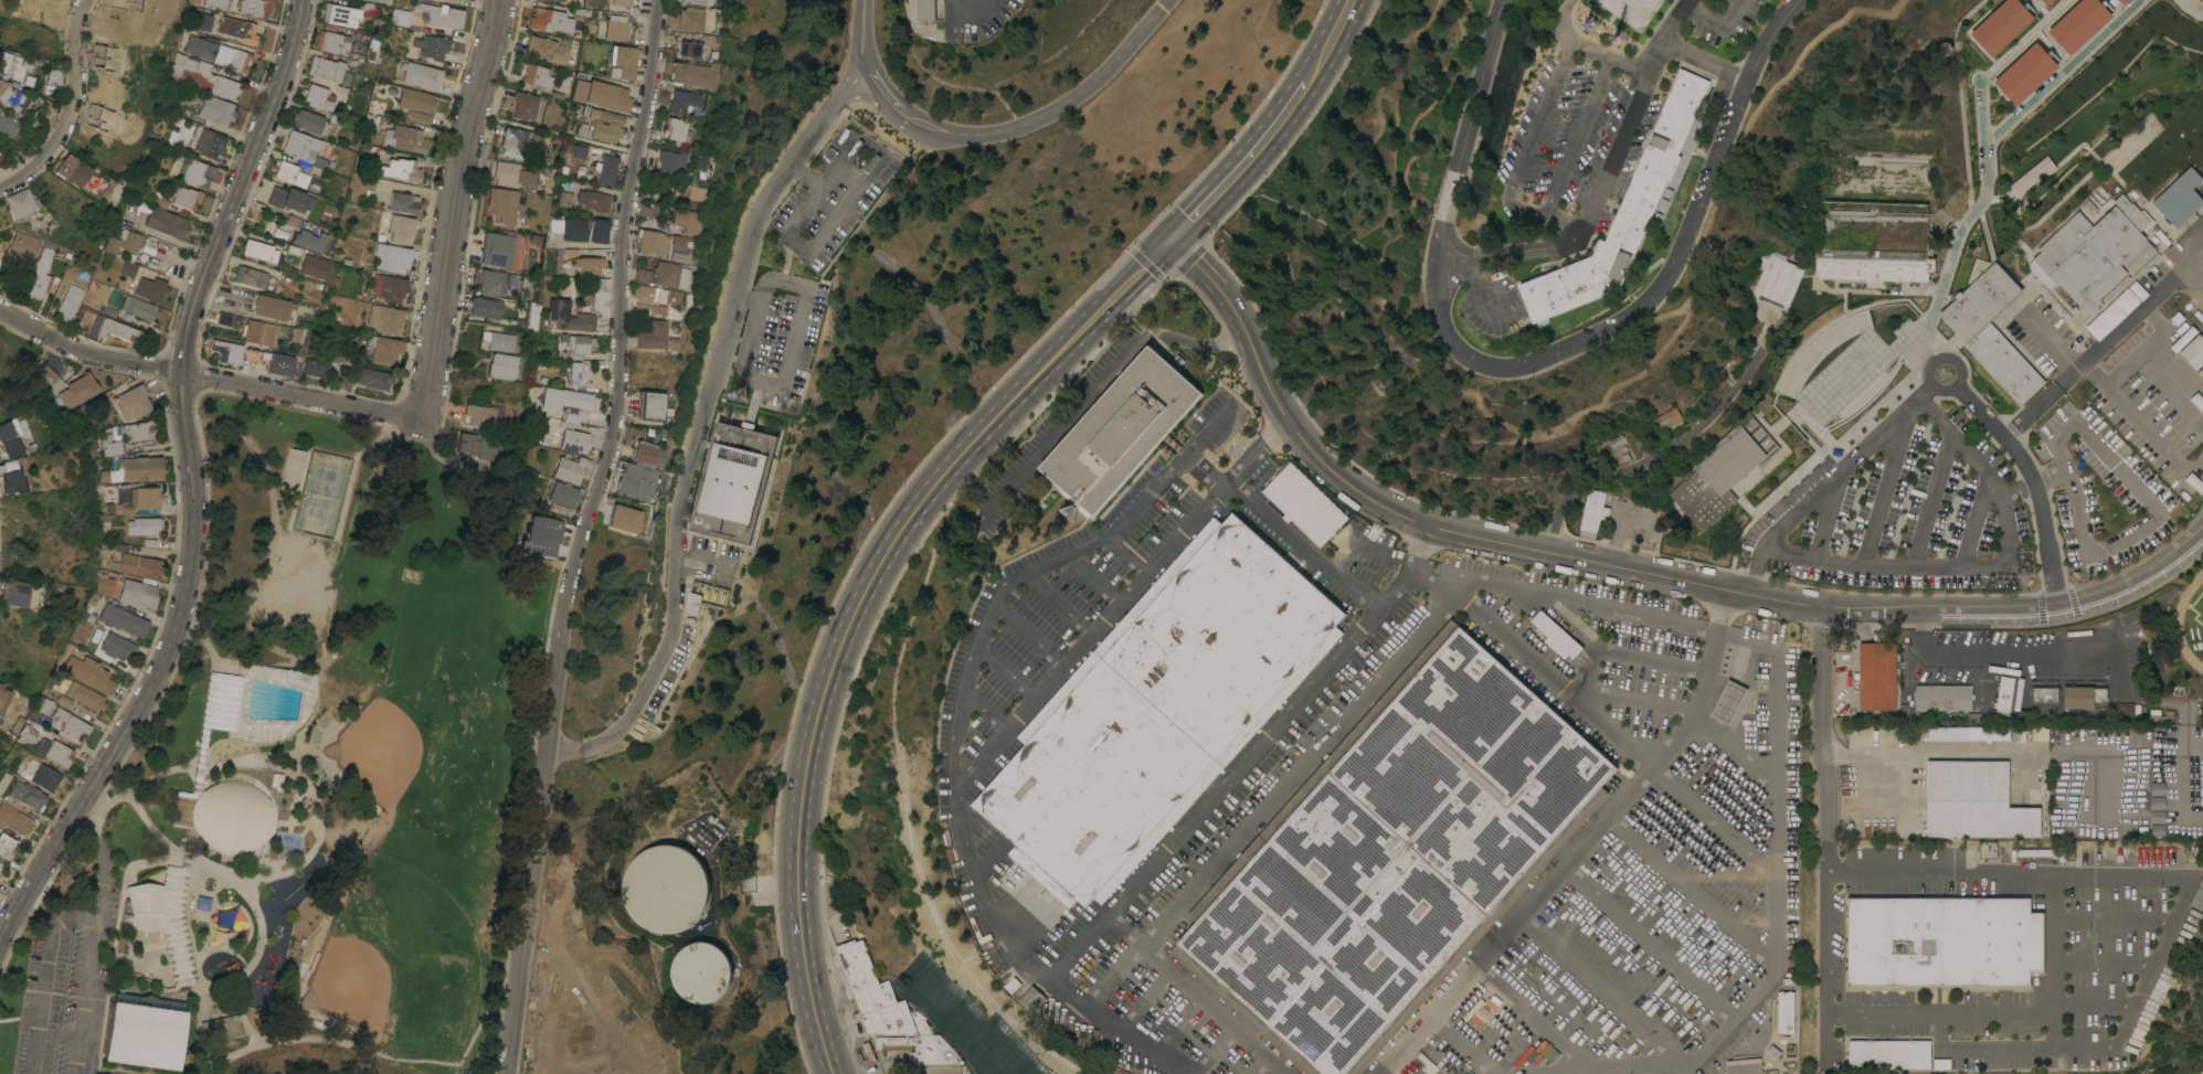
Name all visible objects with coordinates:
building: (549, 0)
building: (560, 0)
building: (378, 1)
building: (696, 1)
building: (2047, 1)
building: (2123, 1)
building: (215, 3)
building: (622, 3)
building: (255, 7)
building: (925, 10)
building: (1632, 10)
road: (972, 11)
building: (345, 13)
building: (400, 17)
building: (443, 17)
building: (687, 19)
building: (550, 20)
road: (1712, 20)
building: (202, 21)
road: (1565, 23)
building: (2079, 23)
building: (615, 24)
building: (2002, 25)
building: (237, 30)
road: (1664, 33)
building: (333, 42)
road: (1327, 43)
building: (201, 46)
building: (432, 46)
building: (691, 49)
building: (1945, 49)
building: (547, 50)
road: (1592, 50)
building: (221, 55)
building: (624, 60)
road: (1705, 60)
building: (240, 61)
building: (11, 64)
building: (177, 64)
road: (1631, 64)
building: (326, 68)
building: (687, 73)
building: (2026, 73)
building: (52, 75)
building: (422, 75)
building: (537, 76)
building: (206, 79)
building: (28, 81)
building: (1543, 81)
building: (11, 94)
building: (601, 95)
building: (318, 96)
building: (415, 100)
building: (17, 102)
building: (684, 103)
building: (525, 105)
road: (70, 106)
building: (214, 111)
road: (1542, 115)
building: (371, 120)
building: (309, 121)
building: (7, 124)
building: (602, 126)
road: (1021, 126)
building: (679, 131)
road: (1577, 136)
building: (403, 138)
building: (513, 141)
building: (210, 143)
building: (299, 146)
building: (370, 151)
building: (578, 151)
road: (1613, 156)
building: (672, 163)
building: (317, 166)
road: (1241, 166)
building: (1505, 166)
building: (396, 169)
building: (605, 169)
building: (70, 170)
building: (700, 171)
building: (197, 172)
building: (289, 173)
building: (509, 176)
building: (367, 185)
building: (687, 195)
parking lot: (833, 195)
building: (186, 196)
building: (2179, 198)
building: (289, 199)
building: (563, 199)
building: (592, 200)
building: (2122, 202)
building: (403, 203)
building: (502, 204)
building: (2089, 208)
building: (24, 209)
road: (452, 209)
building: (652, 210)
building: (1629, 210)
road: (1540, 214)
road: (840, 215)
building: (166, 220)
road: (1964, 220)
building: (690, 222)
building: (401, 227)
building: (583, 230)
building: (136, 241)
building: (307, 241)
traffic signals: (1173, 241)
building: (653, 242)
building: (25, 244)
building: (110, 244)
building: (680, 248)
building: (497, 249)
road: (1514, 249)
building: (258, 251)
building: (0, 253)
building: (2095, 253)
building: (44, 255)
building: (391, 257)
building: (2148, 264)
building: (587, 265)
road: (1196, 265)
building: (311, 266)
building: (129, 268)
building: (1873, 268)
building: (664, 275)
building: (248, 277)
building: (1776, 278)
building: (496, 283)
building: (36, 284)
building: (310, 286)
building: (388, 287)
building: (2116, 288)
building: (150, 289)
road: (735, 293)
building: (646, 294)
building: (597, 296)
building: (658, 296)
building: (70, 302)
building: (269, 307)
building: (484, 307)
building: (138, 308)
building: (646, 309)
building: (1755, 310)
building: (109, 311)
road: (1233, 311)
building: (532, 316)
building: (383, 318)
building: (571, 318)
building: (223, 319)
building: (113, 329)
building: (1991, 330)
building: (261, 332)
building: (656, 337)
building: (497, 341)
parking lot: (777, 341)
building: (580, 342)
road: (2099, 344)
road: (2146, 345)
road: (792, 349)
building: (383, 350)
building: (226, 351)
building: (2192, 352)
building: (570, 354)
building: (254, 355)
road: (1547, 357)
road: (1942, 359)
building: (278, 364)
building: (500, 366)
building: (315, 368)
building: (2200, 372)
building: (573, 374)
road: (209, 378)
building: (372, 379)
building: (340, 381)
building: (70, 386)
road: (1099, 386)
road: (2170, 391)
building: (568, 400)
building: (134, 403)
building: (653, 405)
building: (572, 415)
building: (479, 416)
building: (1664, 421)
road: (2140, 421)
building: (141, 430)
building: (1120, 430)
building: (570, 436)
building: (9, 440)
building: (112, 445)
building: (480, 445)
road: (1670, 447)
building: (648, 454)
building: (1, 467)
building: (139, 469)
building: (570, 469)
building: (1723, 471)
building: (102, 475)
building: (11, 477)
building: (734, 481)
road: (1829, 481)
road: (2034, 481)
building: (638, 482)
road: (192, 485)
building: (563, 495)
road: (1362, 495)
building: (123, 496)
building: (147, 499)
building: (1304, 504)
building: (108, 508)
building: (123, 509)
building: (1593, 512)
road: (2146, 518)
building: (622, 519)
building: (1645, 522)
building: (146, 525)
building: (539, 535)
road: (581, 535)
road: (1304, 544)
road: (1981, 563)
building: (137, 565)
road: (1028, 571)
building: (104, 583)
building: (15, 593)
building: (138, 593)
building: (1690, 595)
building: (707, 596)
road: (858, 604)
building: (88, 605)
road: (1885, 609)
building: (124, 619)
track: (2178, 629)
building: (1556, 636)
building: (117, 646)
road: (2000, 651)
parking lot: (671, 666)
road: (1531, 666)
building: (2154, 669)
building: (91, 673)
building: (1877, 677)
building: (2045, 693)
road: (644, 695)
building: (86, 696)
building: (2004, 696)
building: (2084, 696)
building: (3, 698)
building: (1943, 698)
road: (1357, 700)
building: (64, 701)
building: (1729, 702)
building: (1159, 709)
building: (2126, 710)
building: (40, 711)
building: (17, 724)
building: (72, 724)
building: (2030, 732)
building: (30, 733)
building: (1967, 733)
road: (1947, 747)
road: (564, 751)
road: (993, 751)
building: (60, 753)
road: (1245, 759)
road: (763, 772)
building: (41, 775)
park: (314, 780)
building: (4, 781)
building: (2046, 784)
building: (288, 787)
building: (27, 796)
building: (1974, 801)
building: (2156, 810)
building: (14, 819)
building: (202, 832)
road: (1590, 833)
road: (1825, 837)
building: (7, 844)
building: (1988, 850)
building: (2036, 852)
building: (1394, 858)
road: (489, 859)
road: (100, 861)
building: (0, 864)
building: (0, 873)
road: (1776, 885)
building: (665, 887)
storage tank: (665, 887)
building: (2197, 896)
road: (540, 929)
building: (1943, 942)
road: (2055, 943)
building: (701, 972)
storage tank: (701, 972)
road: (45, 976)
road: (84, 992)
building: (878, 996)
road: (2135, 997)
building: (1032, 999)
road: (539, 1008)
road: (599, 1009)
building: (1786, 1011)
road: (1432, 1019)
building: (221, 1028)
building: (1539, 1029)
road: (1239, 1033)
building: (144, 1035)
building: (923, 1052)
building: (1889, 1054)
building: (1999, 1059)
road: (592, 1062)
building: (2040, 1064)
building: (1745, 1068)

